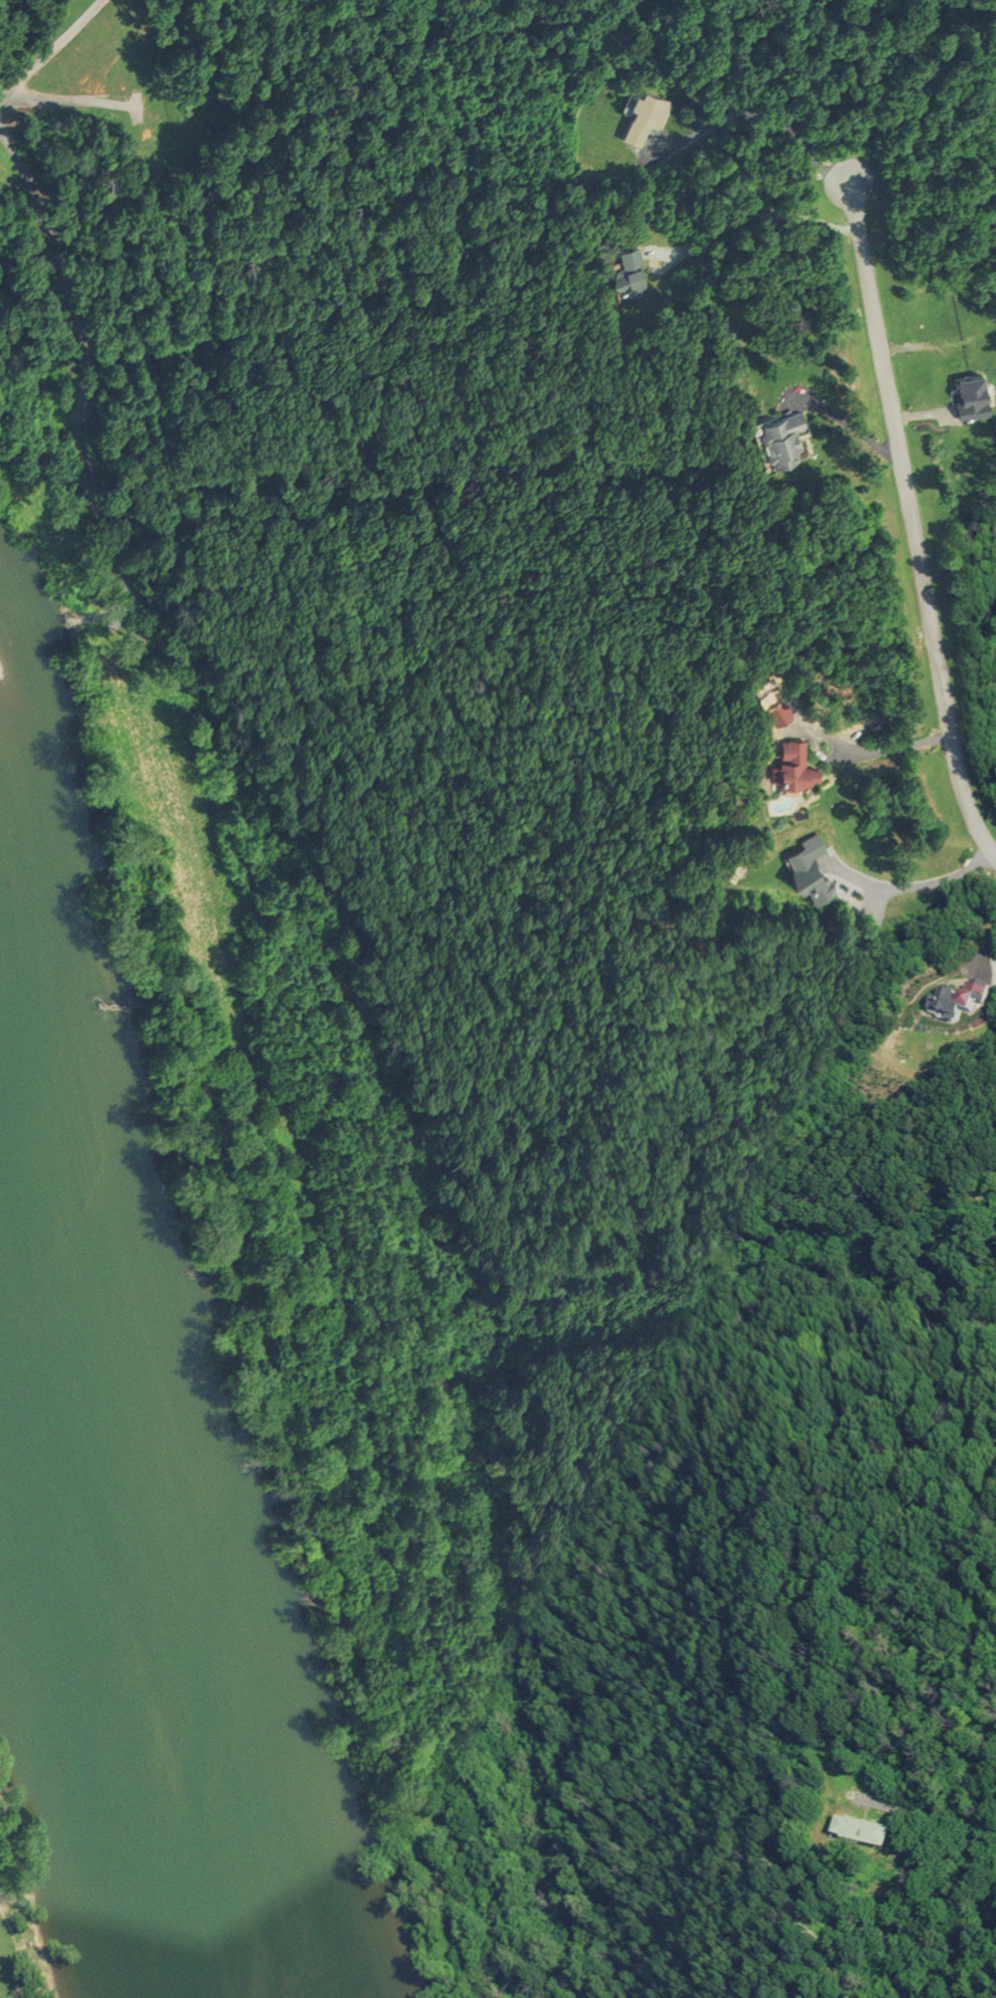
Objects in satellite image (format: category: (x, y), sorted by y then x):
road: (50, 44)
building: (636, 113)
road: (763, 114)
building: (142, 134)
building: (623, 273)
building: (773, 439)
road: (905, 530)
road: (864, 755)
building: (786, 764)
road: (911, 886)
road: (980, 946)
river: (132, 1584)

